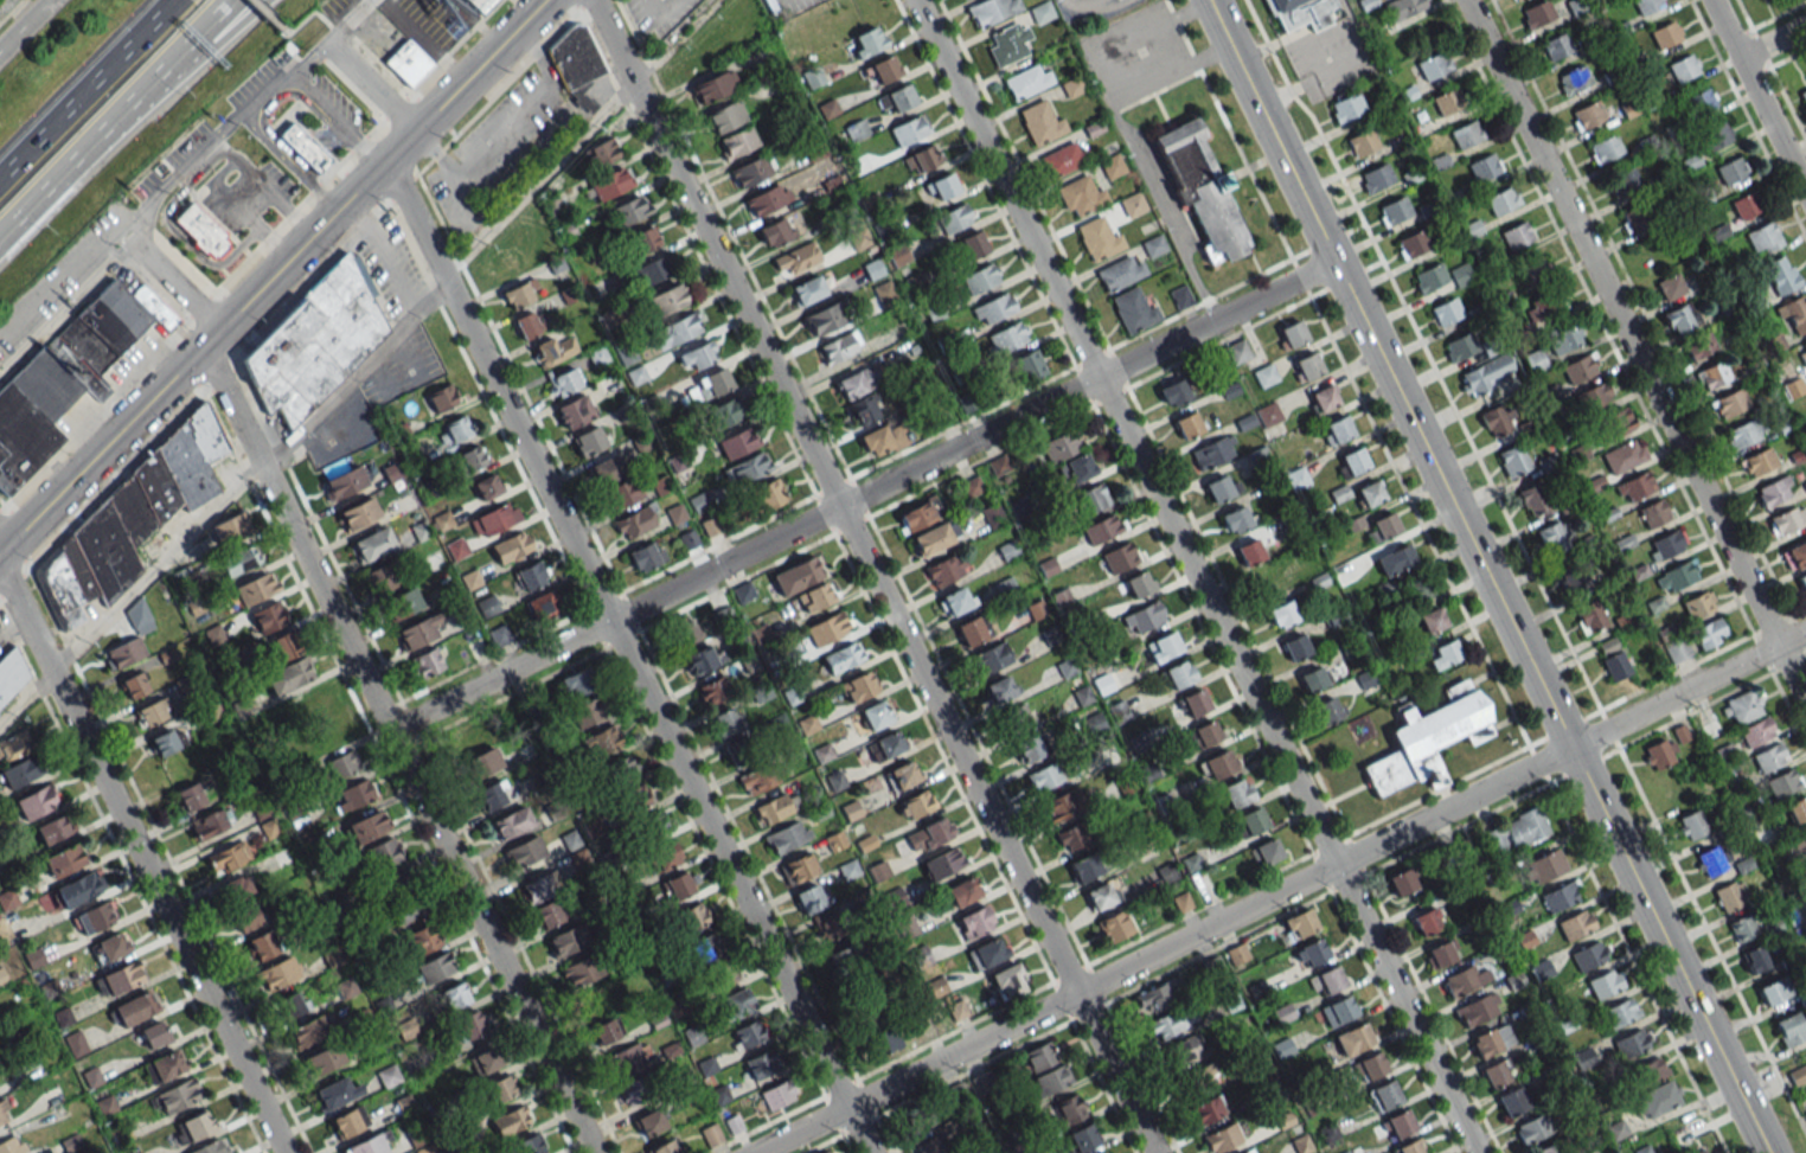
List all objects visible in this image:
building: (1513, 0)
building: (479, 5)
building: (1646, 5)
building: (1398, 8)
road: (9, 9)
building: (991, 9)
building: (1039, 12)
building: (1298, 13)
building: (1535, 13)
road: (267, 17)
building: (449, 19)
road: (24, 24)
building: (1665, 34)
road: (347, 37)
building: (866, 40)
road: (1772, 41)
building: (1006, 43)
building: (1556, 45)
parking lot: (1317, 46)
building: (406, 63)
building: (574, 64)
building: (1434, 64)
road: (165, 68)
road: (182, 68)
building: (884, 68)
building: (1683, 68)
road: (1171, 77)
building: (1571, 79)
building: (1025, 81)
building: (712, 87)
building: (1071, 87)
road: (88, 89)
road: (371, 89)
building: (899, 96)
road: (1757, 98)
building: (1448, 101)
road: (577, 102)
building: (1698, 102)
building: (1802, 102)
building: (1344, 108)
building: (1586, 114)
road: (498, 116)
building: (725, 116)
road: (337, 122)
building: (1039, 122)
building: (905, 129)
building: (1465, 134)
road: (583, 135)
building: (1715, 136)
building: (739, 140)
building: (1360, 142)
building: (303, 147)
building: (1603, 148)
building: (600, 153)
building: (922, 158)
building: (1062, 158)
road: (288, 161)
building: (1109, 165)
building: (1482, 167)
building: (749, 171)
building: (1730, 171)
road: (173, 175)
building: (1375, 177)
building: (1622, 182)
road: (49, 184)
building: (607, 184)
building: (942, 185)
building: (1199, 187)
road: (1005, 188)
building: (1078, 194)
building: (764, 199)
building: (1500, 200)
road: (993, 201)
building: (1131, 204)
building: (1747, 205)
building: (627, 210)
building: (1392, 210)
road: (1164, 212)
building: (1635, 217)
building: (952, 218)
building: (201, 231)
building: (775, 231)
building: (1516, 235)
building: (1096, 238)
building: (1762, 238)
building: (642, 239)
building: (971, 243)
building: (1411, 243)
building: (1152, 245)
road: (250, 255)
building: (794, 258)
building: (501, 262)
building: (1531, 269)
building: (649, 270)
building: (1117, 273)
building: (1459, 274)
road: (273, 275)
building: (1779, 275)
building: (978, 277)
building: (1429, 277)
building: (1670, 287)
building: (806, 290)
building: (518, 293)
building: (666, 299)
building: (1542, 306)
building: (993, 308)
building: (1132, 309)
building: (1445, 310)
building: (1793, 314)
building: (820, 319)
building: (1678, 320)
building: (529, 322)
road: (1621, 322)
road: (1648, 324)
building: (674, 329)
building: (1291, 333)
building: (1006, 337)
building: (1562, 337)
building: (314, 340)
building: (1459, 345)
building: (1698, 345)
building: (835, 346)
building: (551, 350)
building: (1236, 350)
building: (1801, 353)
building: (694, 355)
building: (1535, 360)
building: (1755, 361)
building: (1027, 365)
building: (1307, 366)
building: (1580, 367)
building: (68, 372)
building: (1264, 374)
building: (1485, 374)
building: (1712, 374)
building: (562, 382)
building: (853, 383)
building: (706, 385)
building: (1792, 387)
building: (1173, 391)
building: (1593, 396)
building: (441, 397)
building: (1323, 398)
building: (1729, 403)
building: (862, 409)
building: (572, 411)
building: (722, 412)
building: (1267, 414)
building: (1500, 417)
building: (1186, 424)
building: (1610, 424)
building: (456, 428)
building: (1338, 429)
building: (1741, 434)
building: (882, 438)
building: (588, 440)
building: (736, 442)
building: (1059, 446)
building: (1212, 451)
building: (1622, 455)
building: (469, 457)
building: (1353, 460)
building: (1512, 460)
building: (1757, 461)
building: (1075, 467)
building: (745, 468)
building: (604, 469)
building: (1295, 478)
building: (342, 482)
building: (486, 486)
building: (1634, 486)
building: (1221, 488)
building: (1774, 491)
building: (1368, 492)
building: (620, 494)
building: (767, 494)
road: (860, 495)
building: (1089, 498)
road: (224, 500)
building: (1532, 500)
building: (358, 512)
building: (1652, 513)
building: (917, 514)
building: (129, 518)
building: (494, 519)
building: (1235, 519)
building: (1787, 519)
building: (633, 523)
building: (1384, 524)
building: (228, 527)
building: (1099, 530)
building: (933, 537)
building: (1552, 537)
building: (372, 544)
building: (1665, 544)
building: (510, 546)
building: (455, 547)
building: (1248, 551)
building: (1794, 555)
building: (645, 556)
building: (1400, 556)
building: (1117, 557)
building: (238, 559)
building: (943, 570)
building: (529, 575)
road: (872, 576)
road: (1486, 576)
building: (1676, 576)
building: (793, 577)
building: (1276, 577)
building: (1570, 577)
building: (379, 579)
building: (1802, 582)
building: (1138, 583)
building: (254, 588)
building: (1415, 588)
building: (813, 596)
building: (954, 601)
building: (401, 603)
building: (1697, 604)
building: (540, 606)
road: (1798, 609)
building: (1282, 614)
building: (268, 616)
building: (1588, 616)
building: (1142, 617)
building: (1432, 620)
building: (826, 628)
building: (137, 629)
building: (683, 629)
building: (972, 629)
building: (417, 632)
building: (1708, 633)
building: (214, 634)
building: (498, 634)
road: (1792, 638)
building: (1165, 643)
building: (283, 646)
building: (1294, 647)
building: (1676, 648)
building: (1446, 652)
building: (841, 656)
road: (628, 658)
building: (988, 658)
building: (700, 660)
building: (425, 662)
building: (1614, 665)
building: (11, 673)
building: (1177, 673)
road: (1792, 673)
building: (287, 675)
building: (1313, 678)
building: (575, 683)
building: (133, 685)
building: (857, 686)
building: (1000, 688)
road: (367, 690)
building: (712, 690)
building: (1195, 702)
building: (308, 706)
building: (1741, 706)
building: (1327, 710)
building: (152, 712)
building: (587, 712)
building: (875, 715)
building: (1014, 718)
building: (725, 722)
building: (1756, 731)
building: (1205, 732)
building: (1427, 738)
building: (167, 741)
building: (601, 741)
building: (883, 745)
building: (1029, 748)
building: (738, 749)
building: (1659, 752)
building: (1769, 757)
building: (481, 762)
building: (1219, 763)
building: (341, 764)
road: (1286, 766)
building: (620, 768)
building: (17, 771)
building: (901, 775)
building: (1043, 776)
building: (758, 779)
building: (1782, 783)
building: (1235, 792)
building: (353, 794)
building: (491, 795)
building: (188, 796)
building: (635, 796)
building: (36, 801)
building: (914, 803)
building: (1059, 805)
building: (773, 807)
building: (1797, 808)
building: (258, 811)
building: (1251, 820)
building: (210, 822)
building: (508, 822)
building: (1690, 825)
building: (365, 826)
building: (649, 826)
building: (51, 828)
building: (1513, 833)
building: (928, 834)
building: (787, 835)
building: (1070, 837)
building: (1799, 843)
building: (523, 851)
building: (383, 852)
building: (1268, 852)
road: (137, 853)
building: (226, 857)
building: (661, 857)
building: (63, 860)
building: (1711, 860)
building: (941, 863)
building: (1805, 865)
building: (1083, 866)
building: (1542, 866)
building: (798, 867)
building: (1402, 880)
building: (399, 882)
building: (675, 886)
building: (537, 888)
building: (76, 889)
building: (232, 889)
building: (961, 891)
building: (1100, 895)
building: (1730, 895)
building: (1560, 896)
building: (808, 898)
road: (1267, 898)
building: (406, 914)
building: (546, 914)
building: (692, 916)
building: (92, 917)
building: (245, 917)
building: (973, 921)
building: (1427, 921)
building: (1299, 923)
building: (1574, 924)
building: (1113, 925)
building: (824, 928)
building: (1741, 928)
building: (422, 939)
building: (565, 940)
building: (261, 944)
building: (107, 947)
building: (704, 947)
building: (986, 952)
building: (1309, 952)
building: (1440, 953)
building: (1588, 954)
building: (843, 959)
building: (1754, 959)
building: (434, 967)
building: (577, 972)
building: (277, 974)
building: (117, 978)
building: (722, 978)
building: (1007, 980)
building: (1325, 980)
building: (1464, 980)
building: (1603, 982)
building: (1773, 991)
building: (454, 995)
building: (1154, 998)
building: (594, 1000)
building: (736, 1001)
building: (289, 1004)
building: (133, 1008)
building: (1477, 1008)
building: (1337, 1010)
building: (1619, 1012)
building: (467, 1026)
building: (1789, 1029)
building: (604, 1030)
building: (307, 1031)
building: (153, 1033)
building: (747, 1033)
building: (1352, 1038)
building: (1491, 1039)
building: (884, 1040)
building: (73, 1043)
building: (1629, 1043)
building: (1186, 1048)
building: (627, 1057)
building: (1038, 1057)
building: (322, 1058)
building: (483, 1059)
building: (762, 1064)
building: (162, 1065)
building: (1369, 1066)
building: (1652, 1069)
building: (1494, 1072)
building: (1798, 1074)
building: (1051, 1078)
building: (1199, 1078)
building: (499, 1088)
building: (636, 1089)
building: (334, 1093)
building: (955, 1094)
building: (51, 1095)
building: (177, 1095)
building: (774, 1095)
building: (1383, 1095)
building: (1665, 1095)
building: (1511, 1101)
building: (1068, 1109)
building: (2, 1114)
building: (917, 1119)
building: (511, 1120)
building: (345, 1122)
building: (648, 1122)
building: (1396, 1123)
building: (191, 1127)
building: (1531, 1129)
building: (1616, 1129)
building: (710, 1134)
building: (1222, 1138)
building: (1080, 1139)
building: (370, 1144)
building: (9, 1145)
building: (527, 1145)
building: (929, 1145)
building: (209, 1147)
building: (662, 1147)
building: (1410, 1147)
building: (1545, 1149)
building: (1710, 1149)
building: (825, 1152)
building: (1101, 1152)
building: (1244, 1152)

